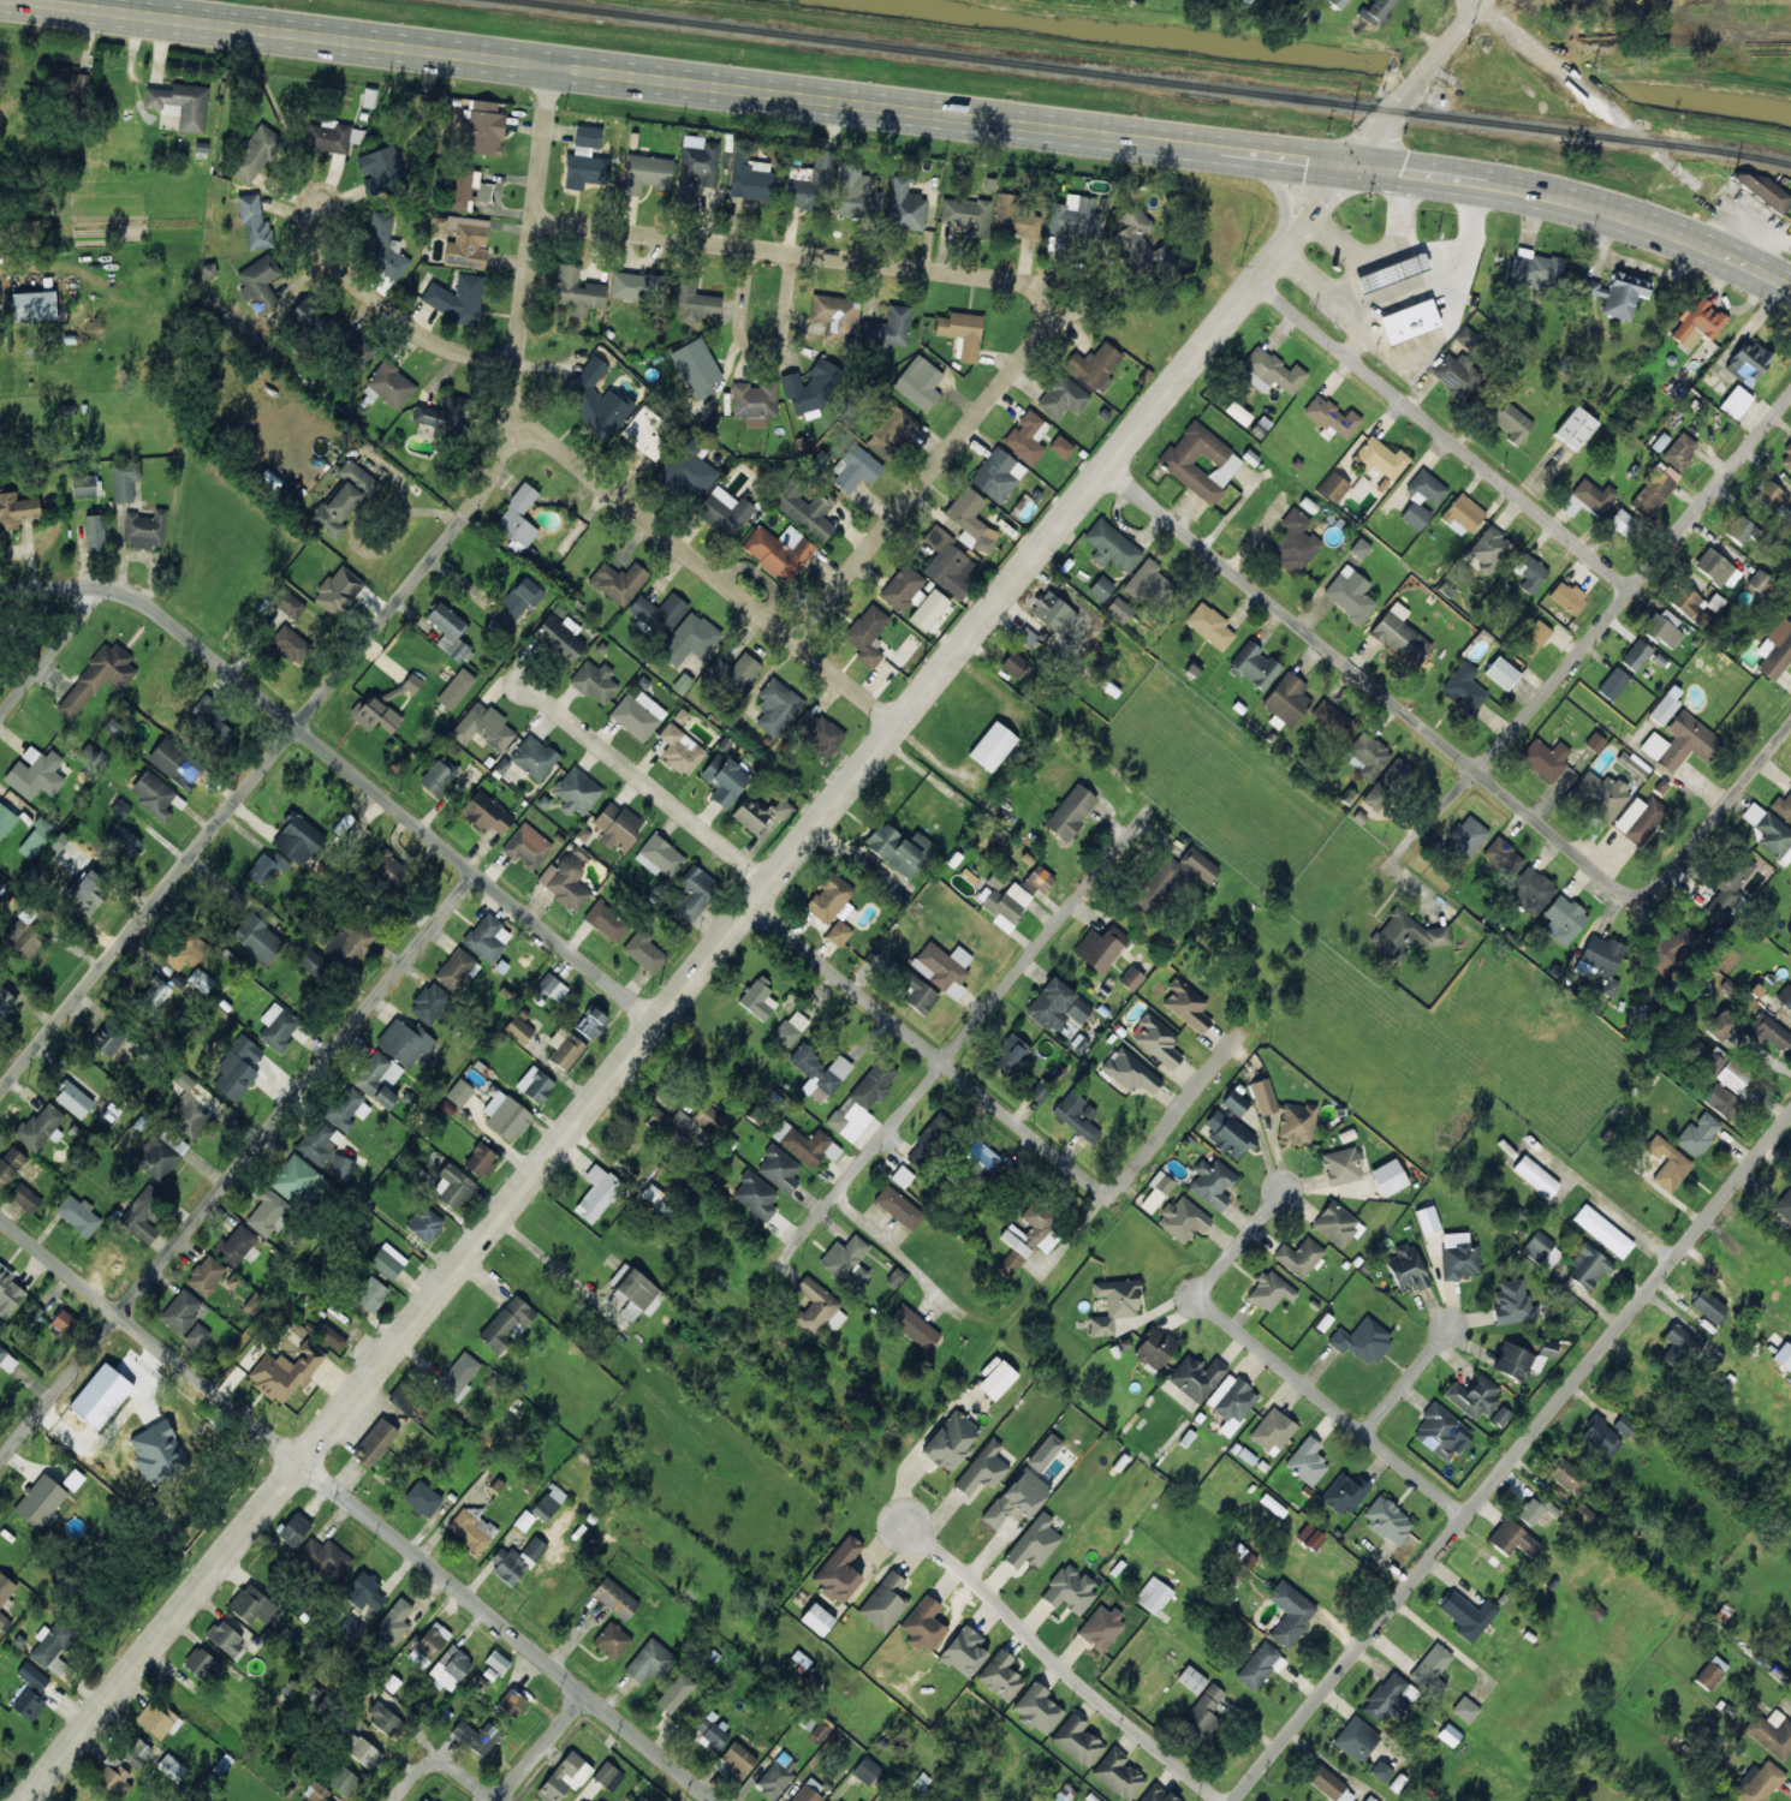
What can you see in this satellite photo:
road: (1477, 1)
building: (1338, 2)
building: (1374, 11)
building: (72, 78)
railway: (1149, 80)
road: (1590, 95)
building: (182, 105)
road: (906, 111)
building: (482, 129)
building: (332, 137)
building: (255, 154)
building: (585, 160)
building: (381, 165)
building: (696, 167)
traffic signals: (1346, 168)
building: (645, 173)
building: (751, 177)
building: (799, 187)
building: (466, 190)
building: (1763, 190)
building: (904, 205)
building: (1073, 215)
building: (966, 216)
building: (254, 222)
building: (1016, 223)
building: (466, 241)
building: (1141, 243)
building: (383, 246)
building: (1535, 268)
building: (1391, 273)
road: (785, 274)
road: (1007, 280)
building: (261, 281)
building: (635, 285)
building: (577, 291)
building: (1617, 293)
building: (457, 298)
building: (692, 300)
building: (34, 306)
road: (389, 310)
building: (308, 315)
building: (835, 316)
building: (1409, 321)
building: (1696, 323)
building: (888, 328)
building: (962, 333)
building: (351, 346)
building: (808, 351)
building: (1748, 362)
building: (1094, 366)
building: (696, 368)
building: (1271, 371)
building: (1456, 375)
building: (918, 382)
building: (389, 383)
building: (811, 388)
building: (1061, 396)
building: (595, 398)
building: (754, 402)
building: (1735, 402)
building: (1237, 412)
building: (442, 415)
building: (1331, 417)
building: (1506, 417)
building: (1575, 428)
building: (889, 430)
building: (644, 433)
road: (1444, 435)
building: (1027, 436)
building: (1659, 441)
building: (1061, 447)
building: (1679, 451)
building: (1786, 457)
building: (1379, 458)
building: (1200, 461)
building: (855, 467)
building: (686, 471)
building: (996, 473)
building: (124, 479)
building: (84, 485)
building: (1333, 487)
building: (1653, 490)
building: (1593, 495)
building: (1421, 497)
building: (344, 499)
building: (1771, 499)
building: (804, 508)
building: (16, 509)
building: (725, 511)
building: (1462, 514)
building: (517, 517)
building: (970, 520)
building: (1620, 521)
building: (145, 530)
building: (1739, 530)
building: (95, 532)
building: (1293, 542)
building: (1111, 545)
building: (1359, 548)
building: (1488, 548)
building: (779, 551)
building: (947, 562)
road: (702, 566)
building: (1716, 568)
building: (1530, 573)
building: (1754, 578)
building: (618, 582)
building: (1149, 584)
building: (1101, 588)
building: (903, 589)
building: (338, 591)
building: (1350, 594)
building: (1567, 596)
building: (287, 602)
building: (517, 602)
building: (1695, 604)
building: (930, 609)
building: (1119, 609)
building: (659, 613)
building: (1054, 613)
road: (379, 621)
building: (1210, 626)
road: (1600, 627)
building: (1664, 627)
building: (450, 632)
building: (868, 634)
building: (1400, 634)
building: (1027, 637)
building: (1534, 637)
building: (559, 638)
building: (691, 639)
building: (290, 644)
building: (1775, 650)
road: (52, 651)
building: (1636, 654)
building: (1014, 664)
building: (1255, 664)
road: (1351, 668)
building: (1501, 673)
building: (733, 674)
building: (97, 678)
building: (595, 681)
building: (1613, 682)
building: (1463, 687)
building: (456, 688)
building: (1287, 699)
building: (777, 705)
building: (1662, 709)
building: (375, 714)
building: (637, 715)
building: (1333, 721)
building: (483, 727)
building: (819, 732)
building: (1594, 741)
building: (1680, 741)
building: (992, 746)
building: (680, 749)
building: (1365, 755)
building: (534, 757)
building: (1546, 759)
road: (344, 763)
building: (174, 764)
building: (1631, 765)
building: (35, 773)
building: (438, 775)
building: (724, 780)
road: (645, 781)
building: (576, 791)
building: (154, 794)
building: (1600, 794)
building: (1378, 795)
building: (1783, 806)
building: (120, 809)
building: (758, 811)
building: (1071, 811)
building: (487, 813)
building: (1640, 818)
building: (6, 819)
building: (617, 827)
road: (1702, 833)
building: (1769, 833)
building: (1466, 836)
building: (36, 839)
building: (297, 839)
building: (124, 841)
building: (526, 846)
building: (898, 848)
building: (660, 857)
building: (1503, 857)
building: (387, 865)
building: (1200, 865)
building: (266, 867)
building: (877, 876)
building: (0, 878)
building: (567, 878)
building: (1037, 879)
building: (1158, 883)
building: (1728, 887)
building: (1530, 890)
building: (695, 891)
building: (87, 893)
building: (831, 897)
road: (752, 900)
building: (1005, 904)
building: (1563, 919)
building: (606, 922)
building: (838, 934)
building: (1406, 935)
building: (23, 937)
building: (488, 937)
building: (257, 938)
building: (349, 942)
building: (1100, 947)
building: (185, 949)
building: (1666, 949)
building: (644, 952)
building: (311, 960)
building: (1601, 960)
building: (942, 967)
building: (457, 970)
building: (1131, 978)
building: (201, 980)
building: (910, 985)
building: (552, 986)
building: (155, 992)
building: (1784, 996)
building: (758, 997)
building: (7, 1001)
building: (429, 1003)
building: (1186, 1004)
building: (1057, 1006)
building: (591, 1022)
building: (1720, 1024)
building: (278, 1026)
building: (790, 1028)
building: (518, 1030)
building: (1769, 1032)
building: (108, 1038)
building: (1158, 1040)
building: (405, 1042)
road: (962, 1043)
building: (564, 1048)
road: (927, 1049)
building: (1010, 1052)
building: (1703, 1057)
building: (237, 1068)
building: (820, 1071)
building: (1130, 1072)
building: (1731, 1077)
building: (377, 1078)
building: (535, 1085)
building: (459, 1092)
building: (1037, 1092)
building: (73, 1099)
building: (862, 1099)
building: (1721, 1101)
building: (191, 1104)
building: (347, 1109)
building: (1285, 1113)
building: (1077, 1115)
building: (505, 1116)
building: (670, 1122)
road: (1647, 1125)
building: (41, 1126)
building: (1230, 1126)
building: (1697, 1134)
building: (927, 1143)
building: (805, 1144)
building: (325, 1151)
building: (160, 1153)
building: (481, 1159)
building: (10, 1163)
building: (1667, 1163)
building: (984, 1164)
building: (1341, 1165)
road: (238, 1167)
building: (779, 1168)
building: (1535, 1175)
building: (902, 1176)
building: (1388, 1176)
building: (297, 1181)
building: (1212, 1182)
building: (452, 1186)
road: (1612, 1188)
building: (1158, 1189)
building: (597, 1193)
building: (755, 1195)
building: (25, 1197)
building: (1784, 1205)
building: (898, 1207)
building: (267, 1212)
building: (142, 1213)
building: (78, 1215)
road: (1087, 1216)
building: (1427, 1218)
building: (1183, 1219)
building: (1337, 1224)
building: (423, 1227)
building: (1602, 1230)
building: (1028, 1239)
building: (236, 1245)
building: (1541, 1251)
building: (1458, 1256)
building: (1299, 1257)
building: (387, 1260)
building: (846, 1262)
building: (1406, 1268)
building: (1587, 1268)
building: (206, 1275)
building: (894, 1277)
building: (1269, 1290)
building: (8, 1292)
building: (635, 1292)
building: (371, 1294)
building: (1512, 1302)
building: (1113, 1304)
building: (1707, 1305)
building: (815, 1306)
building: (182, 1311)
building: (835, 1320)
building: (63, 1322)
building: (506, 1324)
building: (914, 1326)
building: (197, 1335)
building: (331, 1336)
building: (1678, 1337)
building: (1362, 1341)
building: (1154, 1348)
building: (1783, 1355)
building: (7, 1360)
building: (1515, 1361)
road: (1275, 1365)
building: (285, 1372)
building: (458, 1376)
road: (1399, 1376)
building: (1196, 1377)
building: (998, 1379)
building: (101, 1395)
building: (1474, 1396)
building: (1231, 1400)
building: (409, 1402)
building: (1624, 1425)
building: (1272, 1431)
building: (1438, 1431)
building: (1601, 1436)
building: (950, 1441)
building: (375, 1442)
building: (157, 1451)
building: (1045, 1453)
road: (1512, 1457)
building: (1307, 1461)
building: (983, 1468)
building: (1566, 1477)
building: (1344, 1493)
building: (1018, 1497)
building: (422, 1498)
building: (40, 1501)
building: (548, 1503)
road: (357, 1509)
building: (1535, 1509)
building: (1387, 1520)
building: (294, 1528)
building: (471, 1529)
building: (1309, 1537)
building: (1512, 1538)
building: (1033, 1543)
building: (325, 1560)
building: (1248, 1560)
building: (516, 1562)
building: (839, 1570)
building: (1069, 1588)
building: (364, 1592)
building: (1153, 1594)
building: (615, 1598)
building: (5, 1600)
building: (885, 1602)
building: (251, 1604)
building: (1595, 1610)
building: (1290, 1612)
building: (1468, 1615)
building: (817, 1618)
building: (393, 1622)
building: (923, 1624)
building: (350, 1627)
building: (1101, 1628)
building: (225, 1638)
building: (612, 1640)
building: (427, 1642)
building: (53, 1646)
building: (964, 1652)
building: (496, 1662)
building: (648, 1662)
building: (200, 1663)
building: (1259, 1664)
building: (450, 1668)
road: (1058, 1668)
building: (1432, 1669)
building: (1710, 1672)
building: (1000, 1676)
building: (1191, 1678)
building: (30, 1692)
building: (674, 1693)
building: (1388, 1698)
building: (512, 1702)
building: (1037, 1707)
building: (1465, 1708)
building: (1204, 1712)
building: (385, 1718)
building: (157, 1721)
building: (822, 1729)
building: (710, 1733)
building: (1772, 1733)
building: (1448, 1734)
building: (476, 1736)
building: (1356, 1739)
building: (1077, 1740)
road: (540, 1747)
building: (362, 1751)
building: (136, 1752)
building: (737, 1759)
building: (172, 1767)
building: (867, 1771)
building: (1380, 1771)
road: (460, 1773)
building: (1118, 1773)
building: (607, 1776)
building: (564, 1777)
building: (113, 1778)
building: (341, 1778)
building: (774, 1779)
building: (1759, 1782)
road: (406, 1784)
building: (1331, 1785)
building: (315, 1793)
building: (809, 1793)
building: (1064, 1794)
building: (1156, 1794)
building: (426, 1799)
building: (834, 1799)
building: (1369, 1799)
building: (631, 1800)

